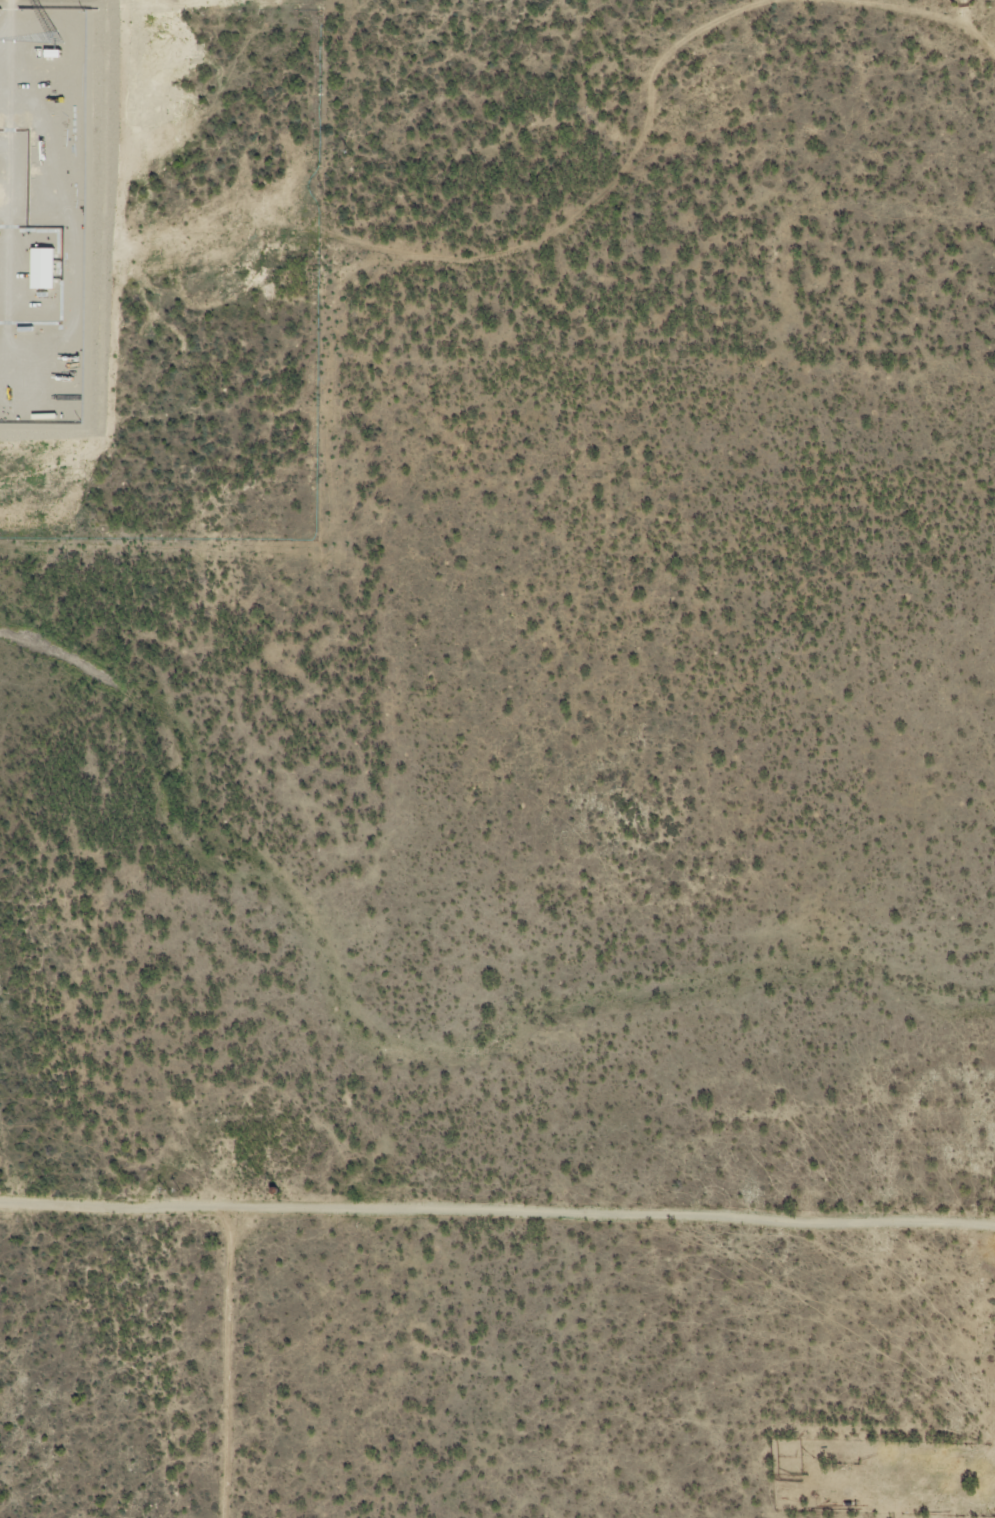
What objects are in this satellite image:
road: (912, 7)
road: (973, 28)
road: (625, 160)
power substation: (43, 211)
road: (497, 1208)
road: (226, 1359)

